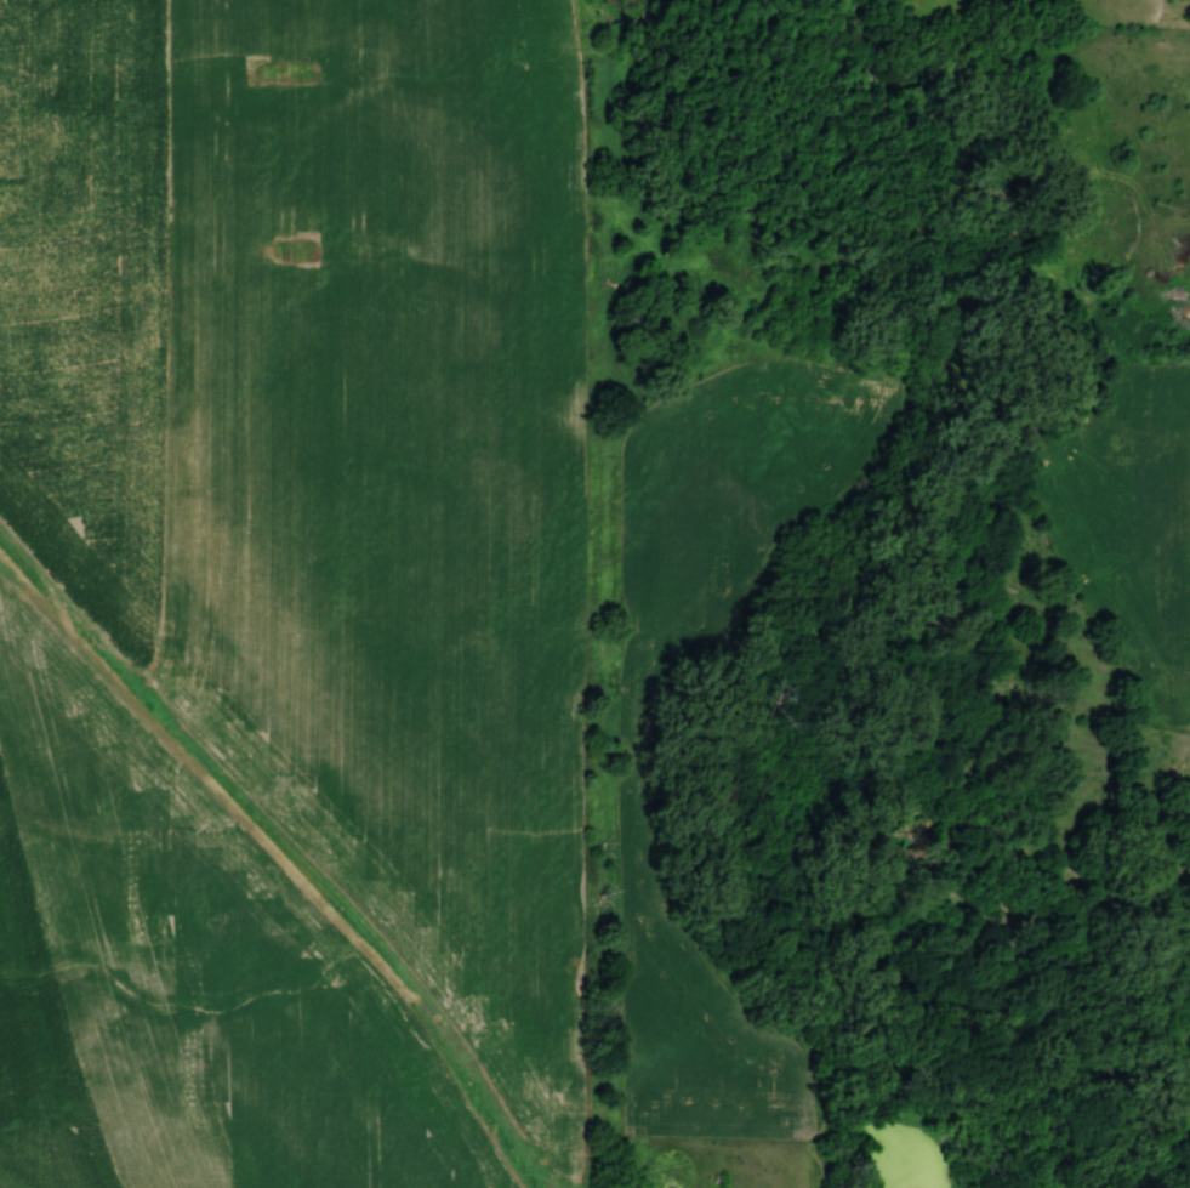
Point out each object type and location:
road: (1174, 762)

